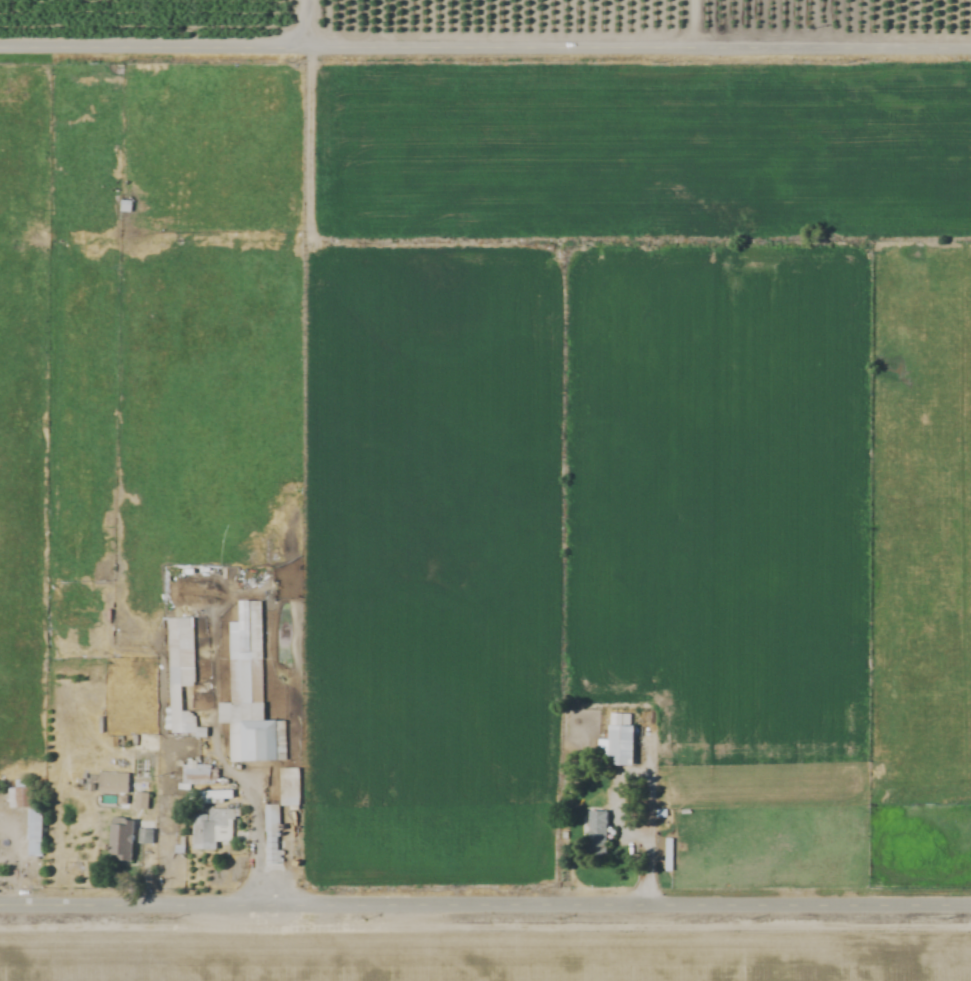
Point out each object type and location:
road: (694, 23)
road: (308, 24)
road: (485, 47)
building: (180, 696)
building: (249, 707)
building: (618, 746)
building: (111, 783)
building: (287, 787)
building: (209, 797)
road: (256, 817)
building: (27, 819)
road: (650, 821)
building: (212, 830)
building: (596, 831)
building: (270, 836)
building: (145, 837)
building: (120, 841)
road: (485, 901)

